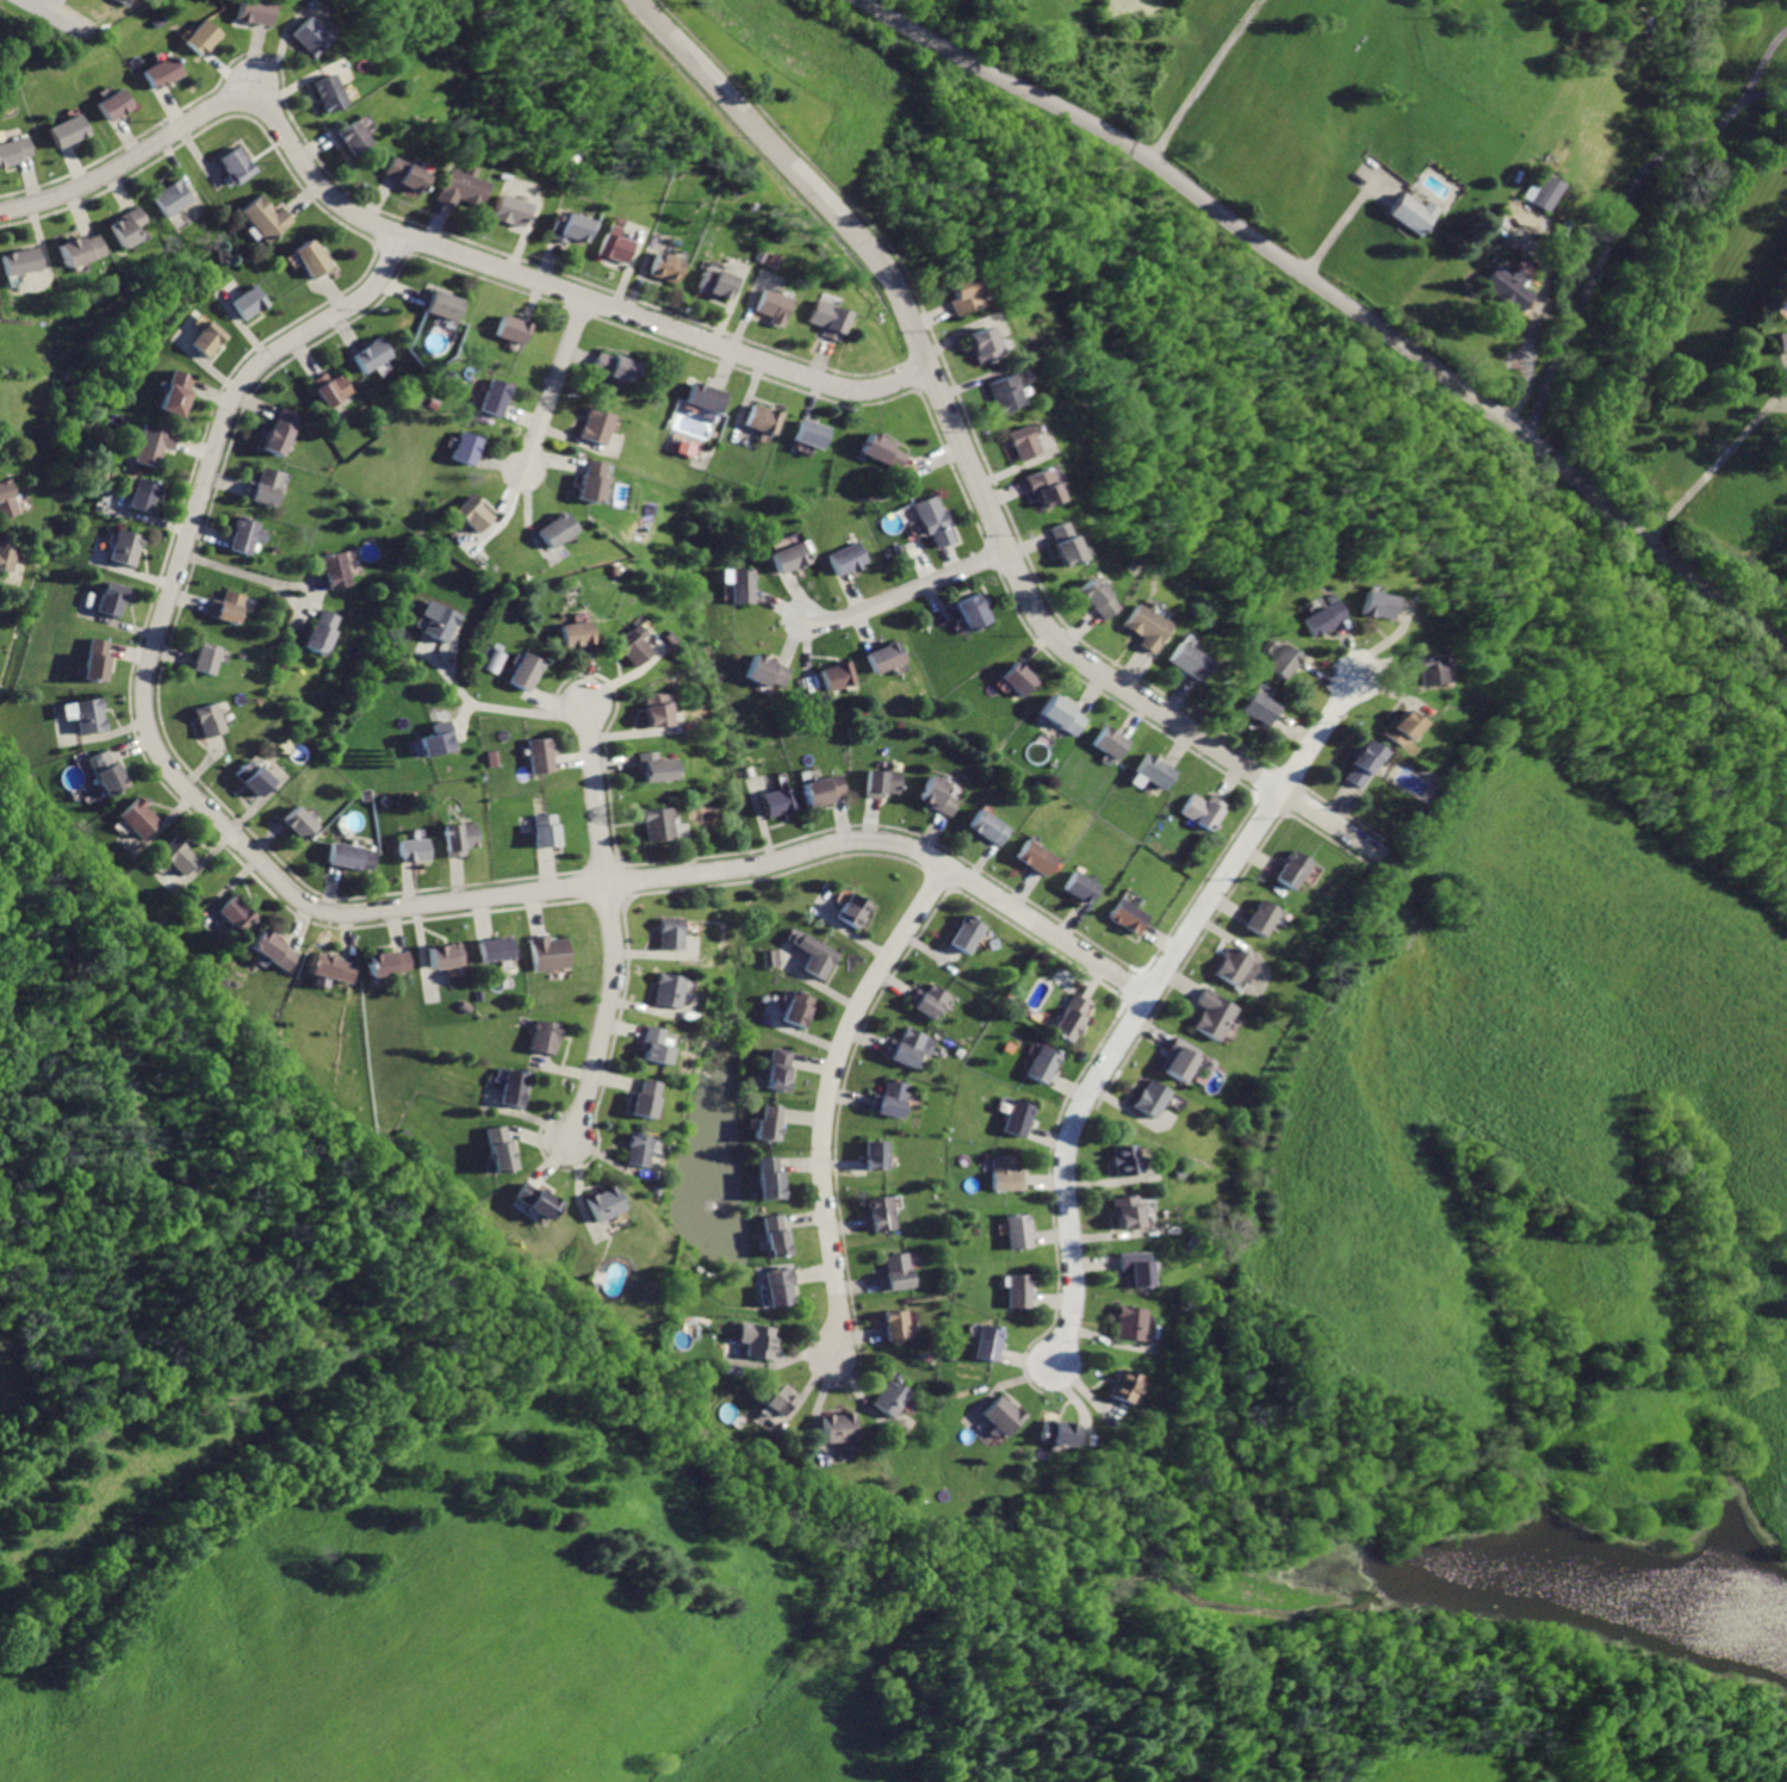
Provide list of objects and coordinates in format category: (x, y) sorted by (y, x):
building: (112, 2)
building: (252, 11)
road: (61, 18)
building: (200, 36)
building: (309, 36)
road: (1762, 67)
building: (161, 72)
crop: (1265, 75)
road: (1204, 79)
building: (328, 92)
building: (116, 103)
building: (69, 129)
building: (353, 137)
building: (14, 149)
building: (237, 164)
building: (403, 173)
building: (458, 186)
building: (1549, 191)
building: (172, 197)
building: (505, 210)
building: (1416, 213)
road: (1352, 217)
building: (266, 218)
building: (125, 225)
building: (561, 226)
road: (1619, 226)
building: (610, 244)
road: (434, 247)
building: (77, 248)
building: (314, 259)
building: (20, 260)
building: (664, 267)
building: (713, 281)
building: (1513, 287)
building: (956, 293)
road: (1341, 298)
building: (250, 300)
building: (443, 303)
building: (771, 303)
road: (1534, 306)
road: (1539, 311)
building: (826, 318)
building: (510, 327)
building: (210, 339)
building: (1783, 342)
building: (976, 346)
building: (372, 353)
building: (614, 365)
road: (554, 385)
building: (335, 390)
building: (176, 392)
building: (1000, 393)
building: (494, 396)
building: (707, 396)
building: (765, 418)
building: (596, 426)
building: (281, 431)
building: (813, 434)
building: (1019, 443)
building: (154, 445)
building: (465, 446)
building: (882, 448)
road: (1719, 462)
road: (969, 467)
building: (591, 480)
building: (268, 484)
building: (1042, 486)
building: (144, 495)
building: (6, 499)
building: (478, 515)
building: (933, 521)
building: (556, 529)
building: (248, 535)
building: (1063, 544)
building: (126, 547)
building: (5, 553)
building: (793, 555)
building: (849, 555)
road: (236, 570)
building: (337, 570)
road: (308, 583)
building: (743, 585)
road: (906, 592)
building: (112, 598)
building: (1094, 598)
building: (1373, 604)
road: (298, 606)
building: (229, 607)
building: (972, 611)
building: (1317, 616)
building: (439, 620)
building: (1142, 627)
building: (323, 632)
building: (576, 632)
building: (631, 647)
building: (887, 656)
building: (209, 657)
building: (491, 658)
building: (95, 659)
building: (1184, 660)
building: (1278, 660)
building: (768, 669)
building: (1425, 669)
road: (445, 670)
building: (525, 671)
building: (839, 673)
building: (1018, 677)
building: (1255, 707)
building: (654, 709)
road: (530, 712)
building: (1059, 714)
building: (92, 715)
building: (212, 720)
road: (466, 721)
building: (1398, 727)
building: (439, 738)
building: (1109, 741)
building: (540, 756)
building: (1363, 763)
building: (652, 766)
building: (108, 771)
building: (1153, 771)
building: (254, 778)
building: (882, 782)
building: (824, 789)
building: (938, 796)
building: (777, 800)
building: (1203, 809)
building: (141, 819)
building: (300, 821)
building: (657, 825)
building: (989, 827)
building: (544, 830)
building: (463, 837)
building: (415, 849)
building: (350, 856)
building: (181, 857)
building: (1037, 857)
building: (1292, 870)
building: (1080, 887)
building: (854, 909)
building: (236, 911)
road: (342, 913)
building: (1130, 915)
building: (1264, 917)
road: (612, 926)
building: (669, 933)
building: (967, 933)
building: (496, 948)
building: (273, 950)
building: (548, 951)
building: (447, 954)
building: (819, 955)
building: (774, 957)
building: (391, 961)
building: (333, 967)
building: (1237, 967)
building: (669, 988)
building: (929, 1000)
road: (1149, 1001)
building: (800, 1008)
building: (1215, 1013)
building: (1072, 1016)
building: (545, 1037)
building: (657, 1045)
building: (910, 1047)
building: (1183, 1057)
building: (1044, 1063)
building: (780, 1069)
building: (515, 1087)
building: (647, 1098)
road: (832, 1098)
building: (1153, 1098)
building: (892, 1099)
building: (1022, 1117)
building: (770, 1123)
building: (501, 1147)
building: (640, 1149)
crop: (1550, 1151)
building: (879, 1155)
building: (1127, 1159)
building: (1009, 1172)
building: (771, 1176)
building: (535, 1199)
building: (604, 1202)
building: (1127, 1210)
building: (883, 1212)
building: (1020, 1231)
crop: (4, 1234)
building: (777, 1234)
building: (1135, 1268)
building: (896, 1271)
building: (782, 1285)
building: (1022, 1291)
building: (1130, 1322)
building: (899, 1325)
building: (759, 1339)
building: (988, 1343)
building: (1124, 1386)
building: (780, 1397)
building: (894, 1397)
building: (1006, 1416)
building: (842, 1427)
building: (1060, 1433)
crop: (423, 1592)
crop: (1488, 1763)

